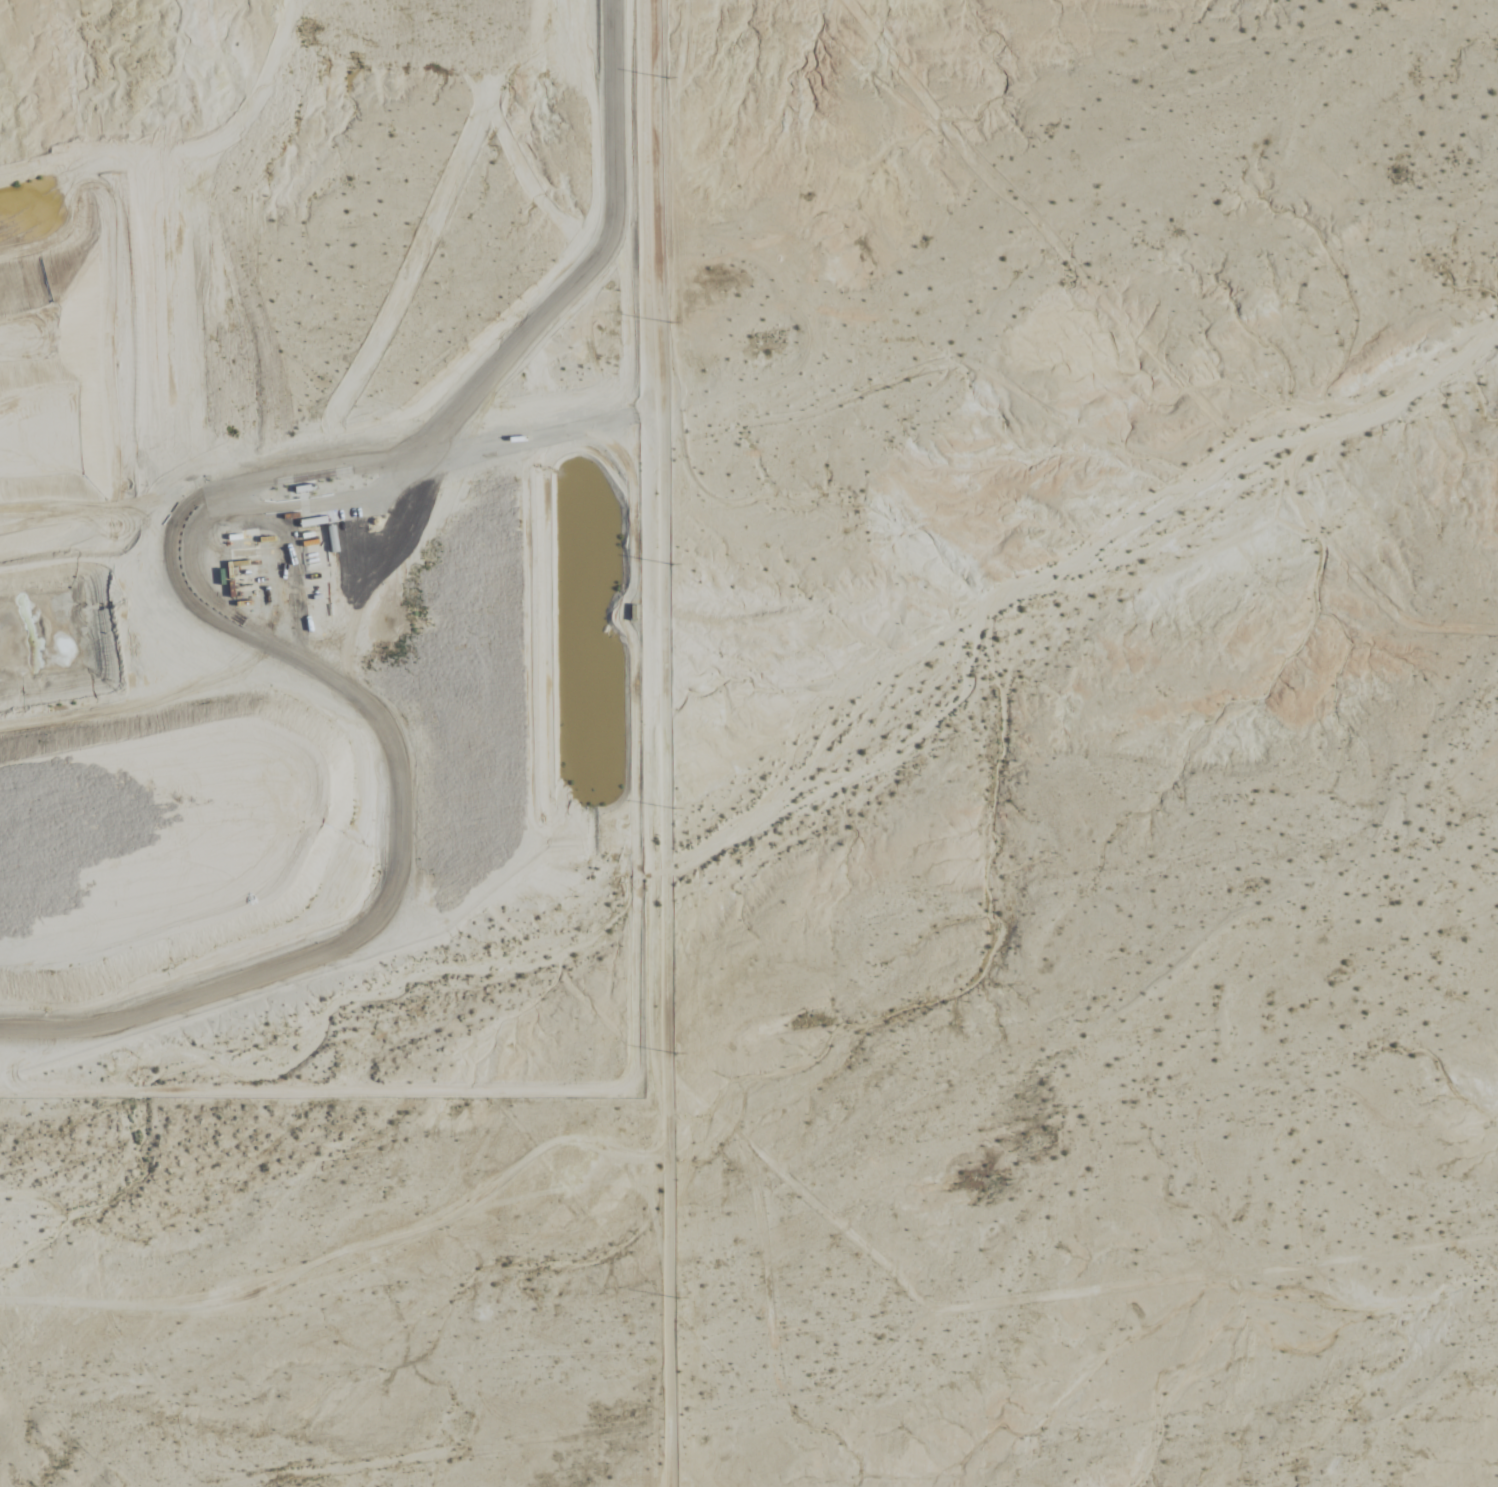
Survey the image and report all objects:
road: (528, 437)
landfill: (312, 540)
road: (193, 586)
road: (663, 743)
road: (343, 1248)

